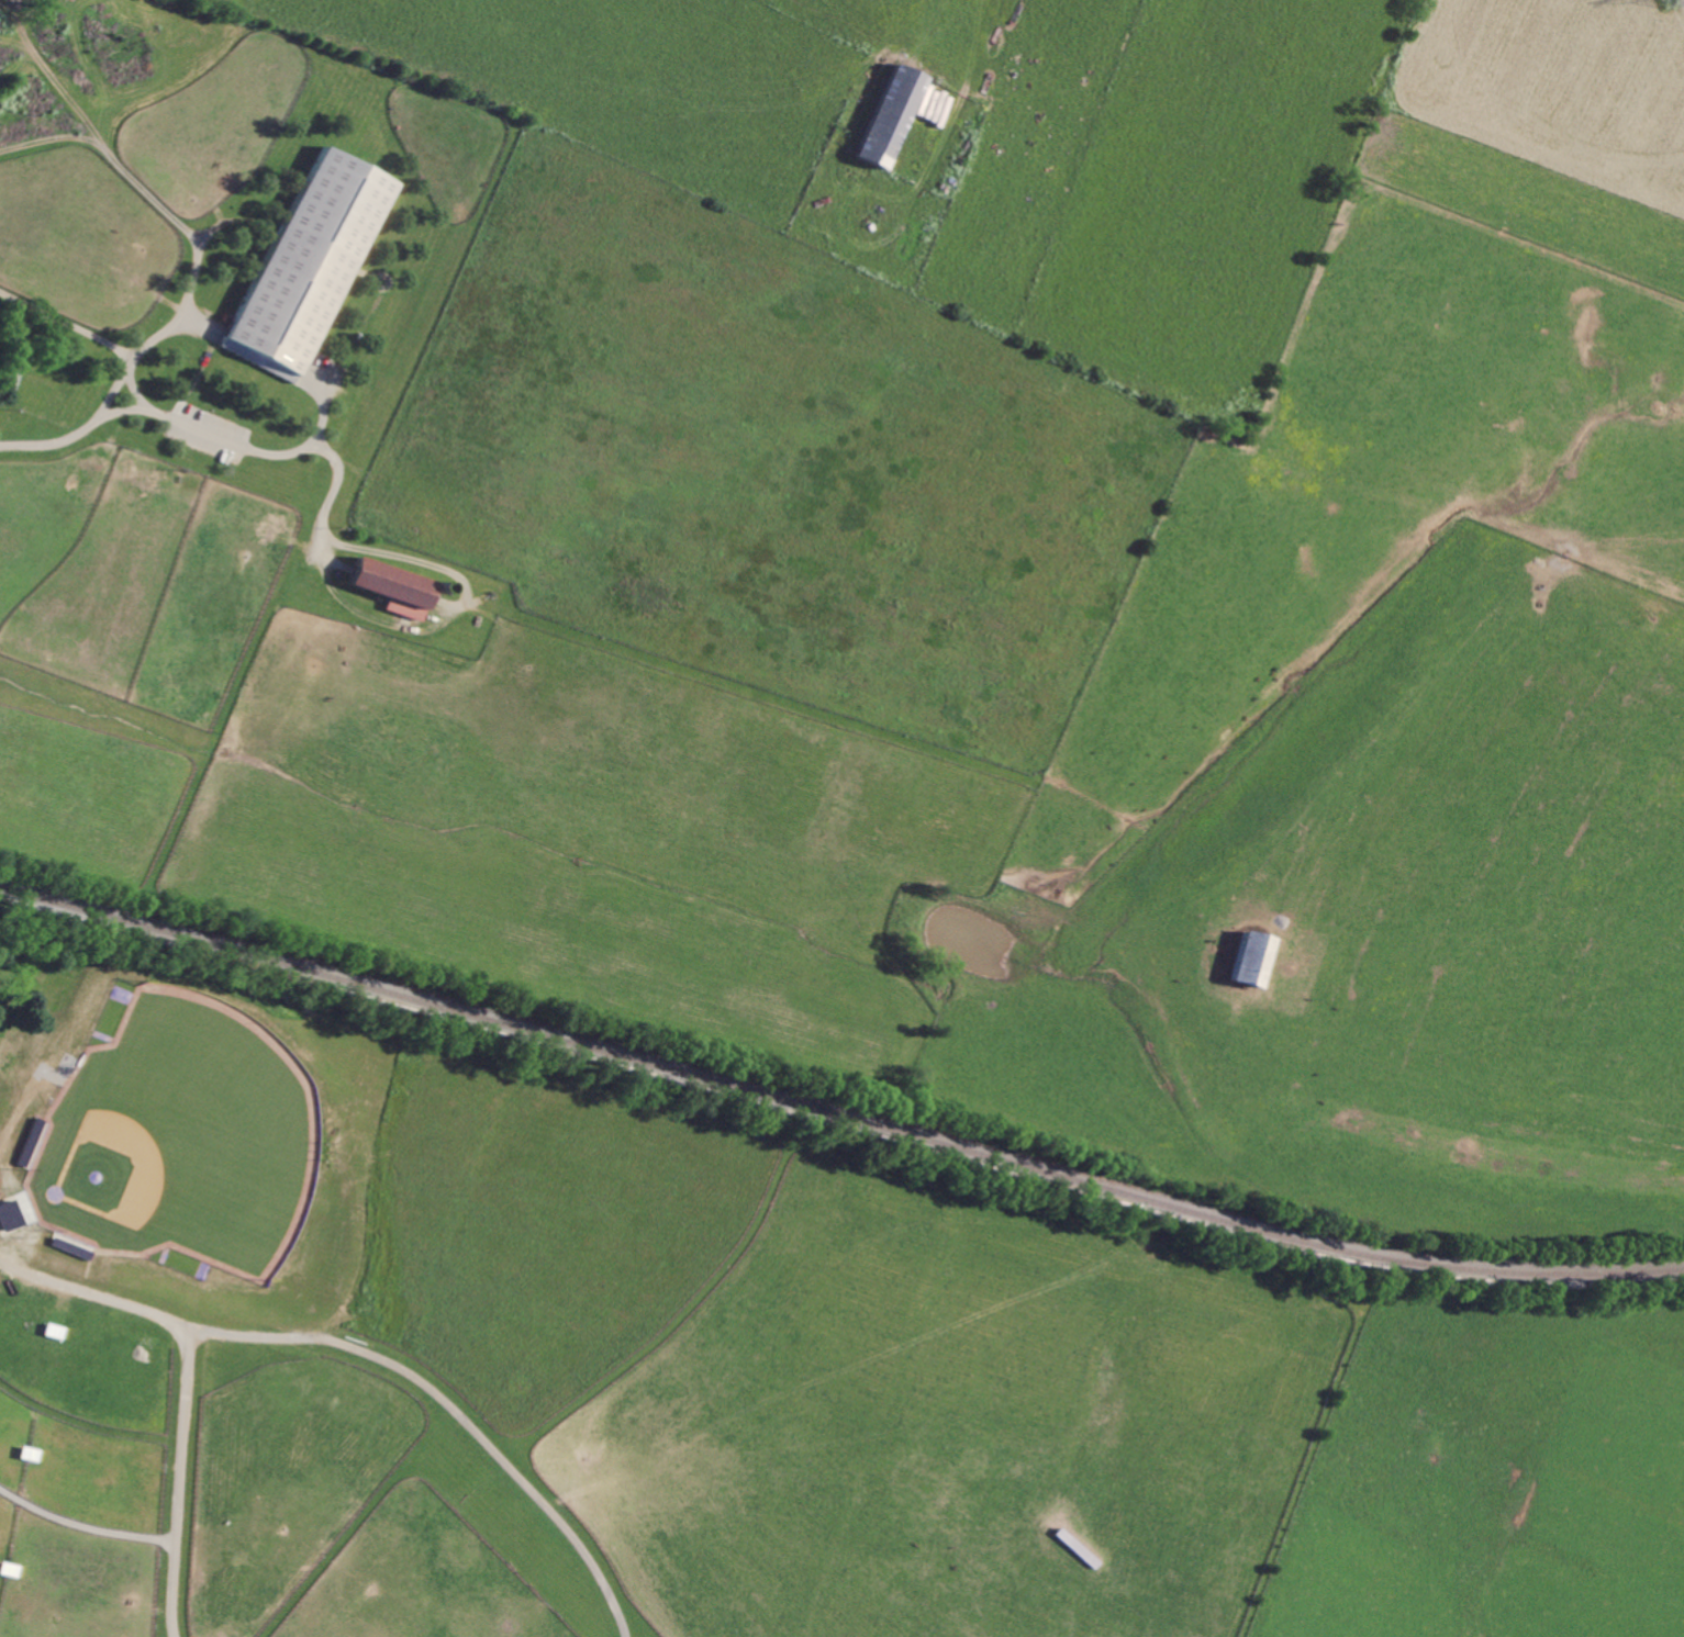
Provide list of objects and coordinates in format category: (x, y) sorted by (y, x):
building: (892, 116)
building: (312, 265)
road: (138, 407)
road: (101, 408)
road: (290, 453)
building: (399, 588)
building: (1257, 957)
railway: (836, 1111)
railway: (836, 1122)
road: (189, 1366)
road: (459, 1410)

